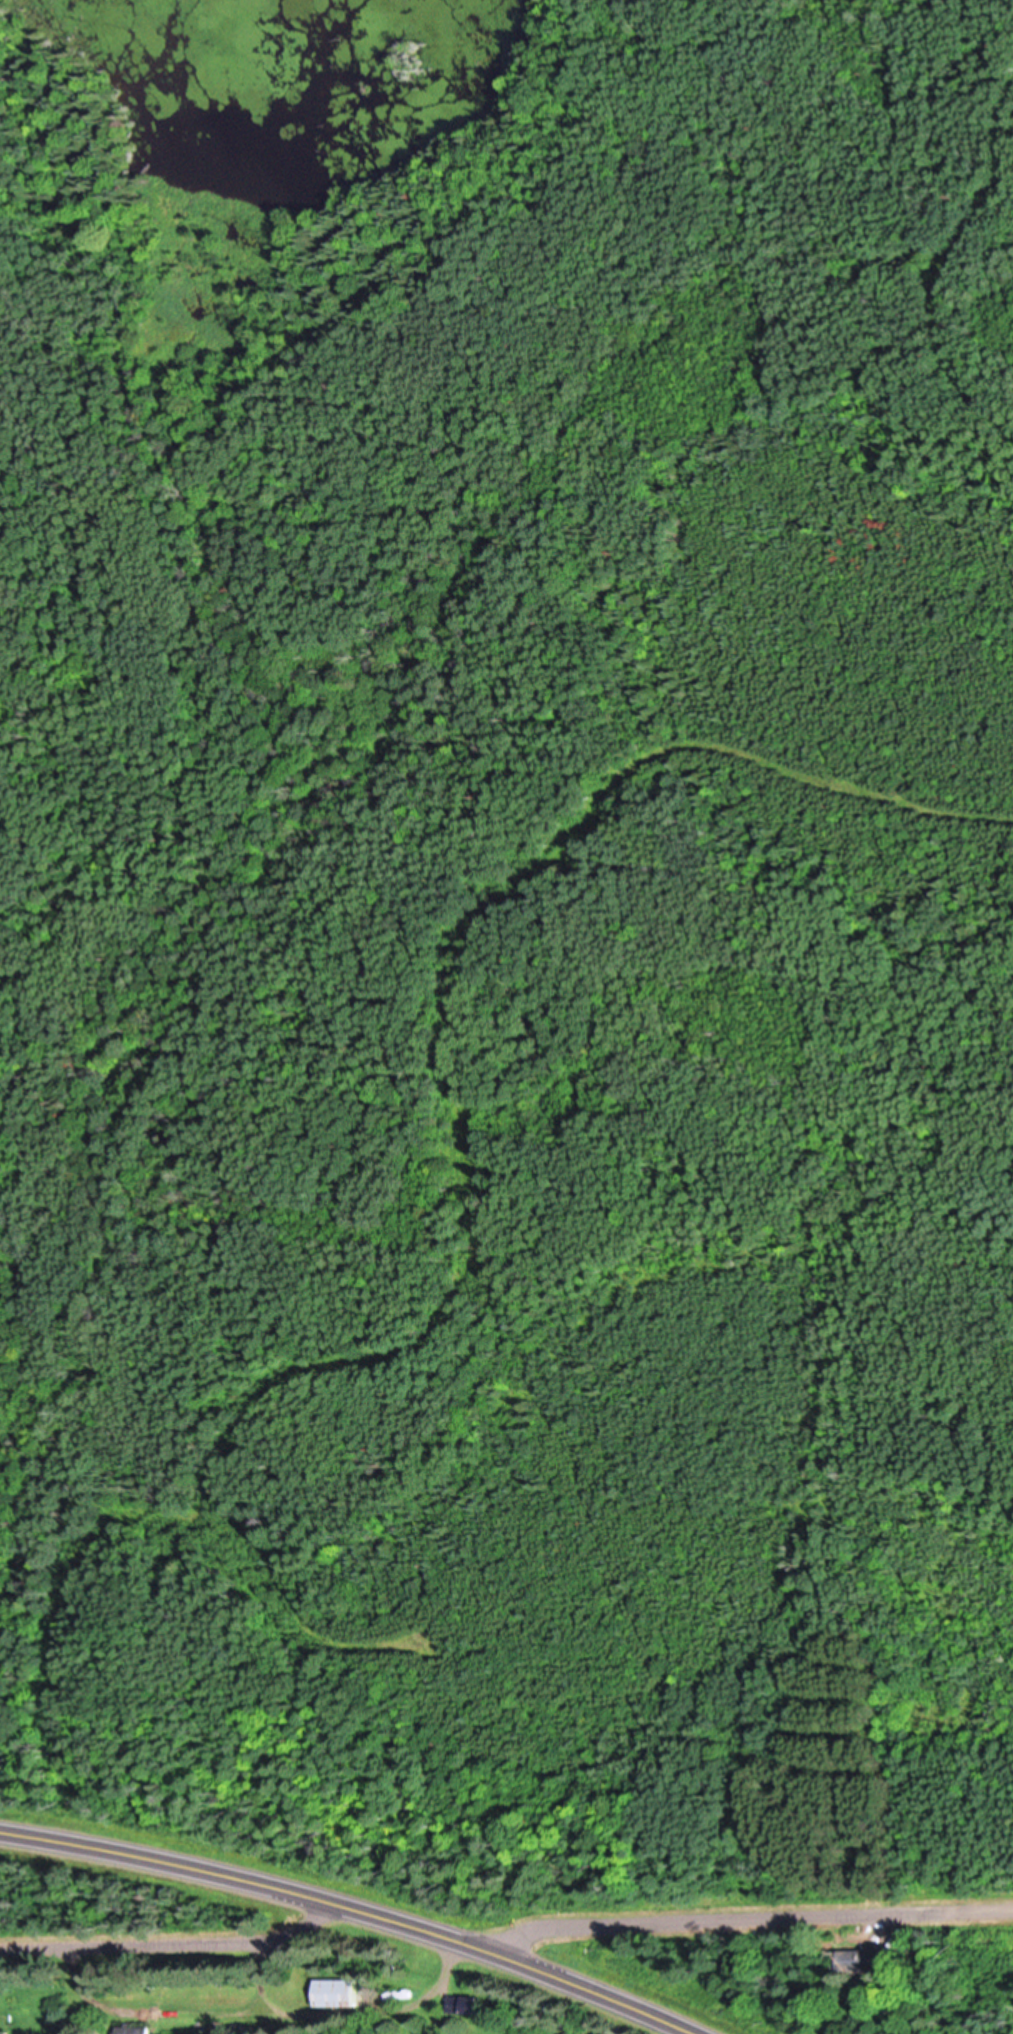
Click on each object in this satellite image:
road: (359, 1908)
road: (749, 1917)
road: (174, 1943)
building: (866, 1958)
building: (341, 1991)
building: (469, 2002)
building: (139, 2028)
building: (6, 2031)

